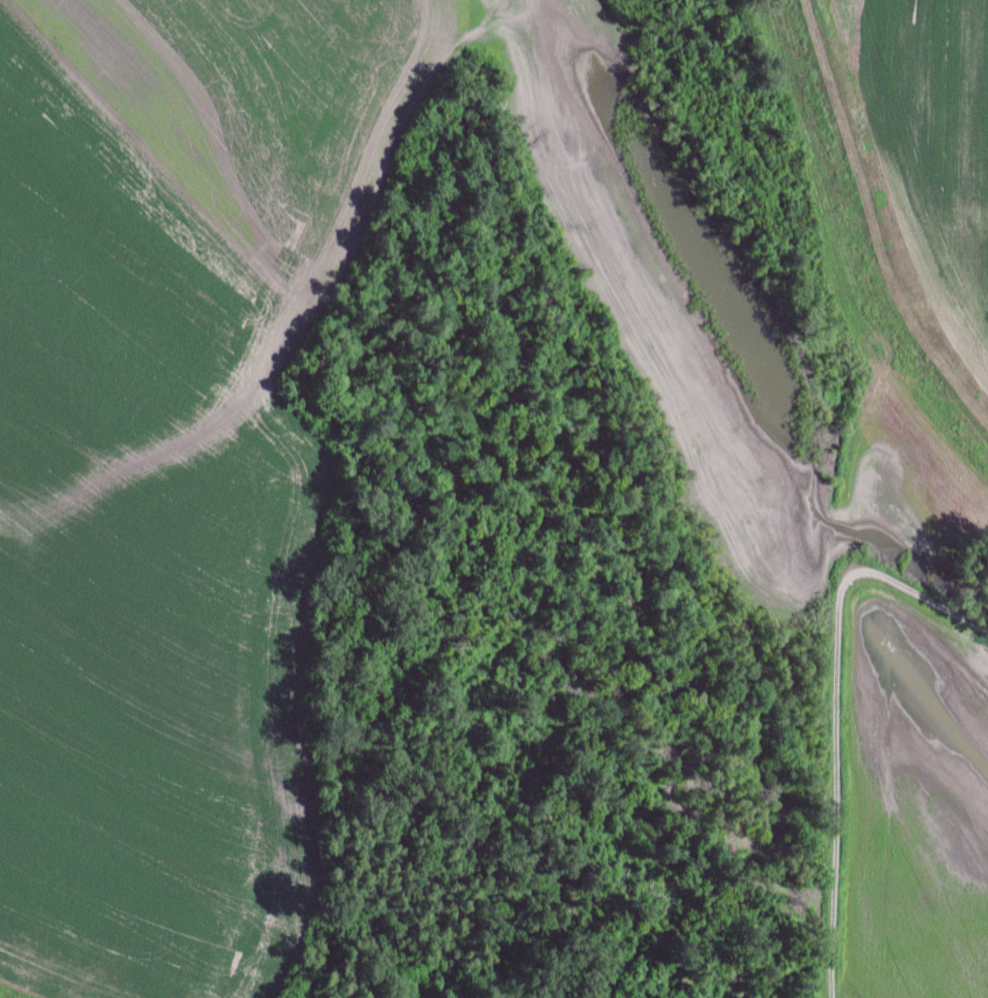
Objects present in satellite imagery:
road: (871, 227)
road: (858, 408)
road: (912, 592)
road: (838, 779)

